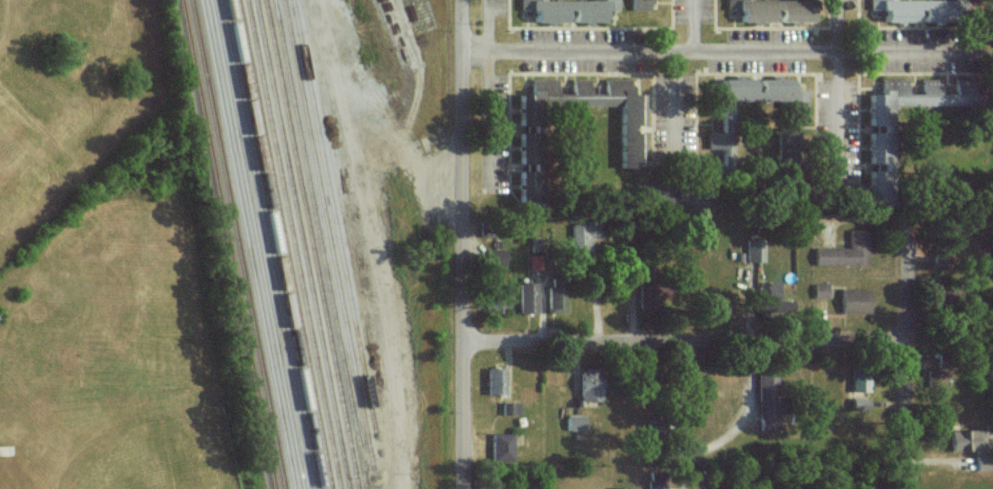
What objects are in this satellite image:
building: (641, 4)
building: (569, 10)
building: (772, 10)
building: (915, 10)
railway: (401, 21)
road: (490, 25)
road: (691, 25)
road: (718, 49)
road: (838, 81)
building: (917, 97)
road: (676, 100)
building: (537, 101)
building: (632, 116)
building: (721, 127)
building: (527, 148)
building: (886, 167)
building: (527, 184)
railway: (320, 232)
railway: (339, 233)
railway: (331, 234)
building: (581, 237)
railway: (231, 244)
railway: (241, 244)
railway: (250, 244)
railway: (256, 244)
railway: (267, 244)
railway: (277, 244)
railway: (287, 244)
railway: (295, 244)
railway: (305, 244)
railway: (315, 244)
road: (468, 244)
building: (755, 249)
building: (847, 250)
building: (821, 290)
building: (768, 294)
building: (528, 296)
building: (498, 299)
building: (556, 299)
building: (856, 300)
road: (688, 340)
road: (906, 369)
building: (938, 377)
building: (496, 380)
building: (861, 380)
building: (591, 385)
building: (768, 399)
building: (860, 403)
building: (511, 408)
road: (686, 414)
building: (576, 422)
building: (968, 439)
building: (503, 446)
building: (984, 462)
building: (657, 482)

